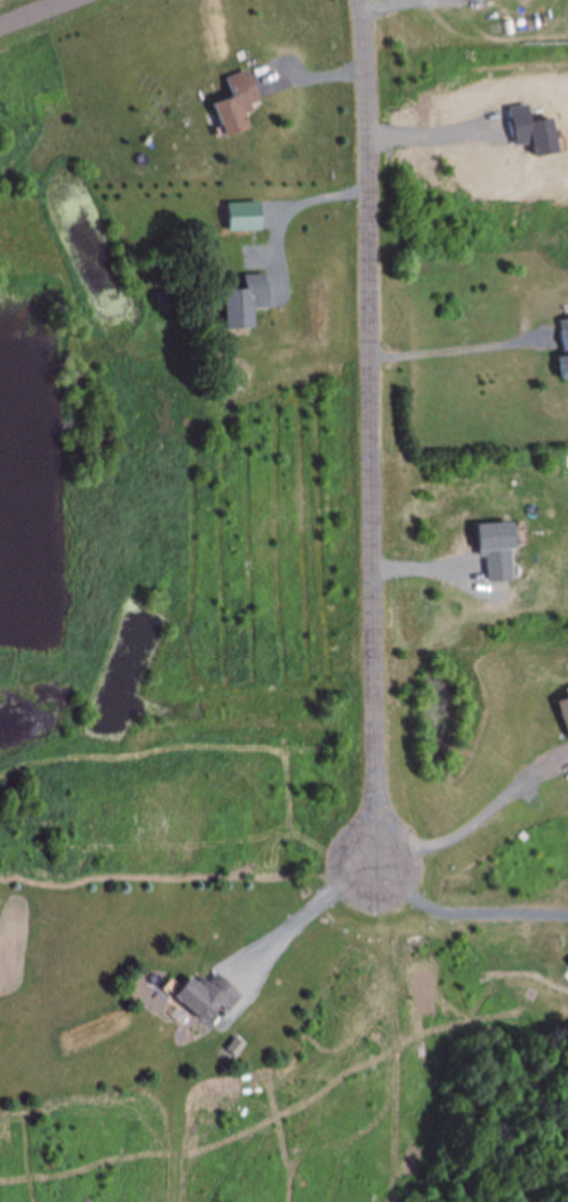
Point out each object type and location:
crop: (12, 4)
road: (29, 11)
building: (234, 104)
building: (243, 303)
building: (563, 352)
road: (375, 433)
building: (563, 713)
building: (204, 998)

